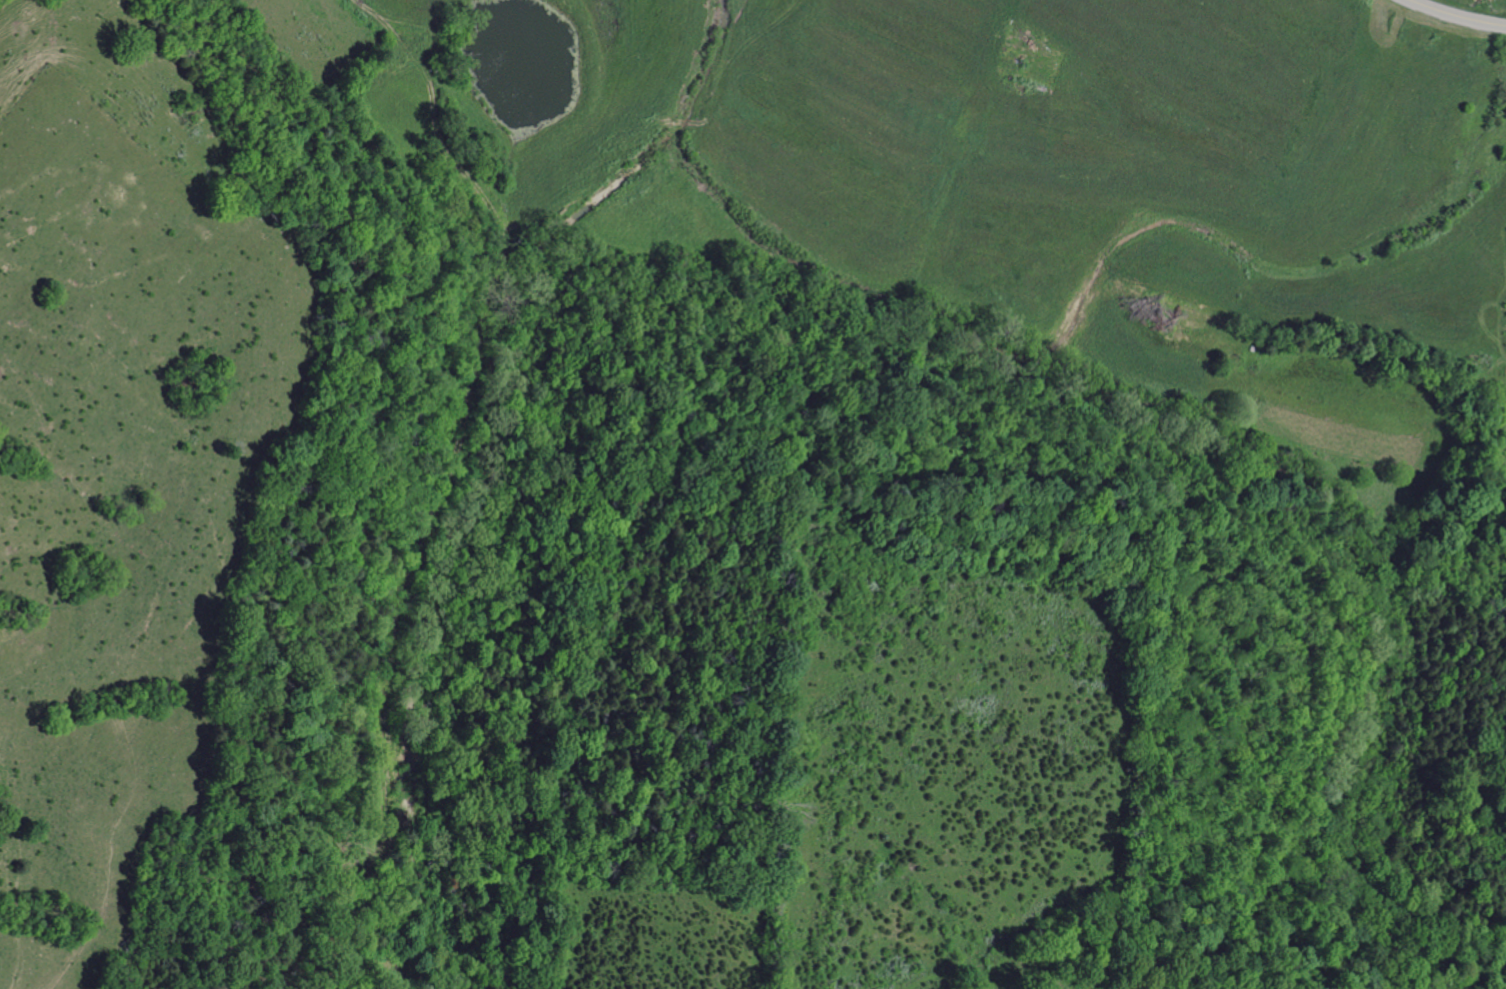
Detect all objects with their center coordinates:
road: (1457, 15)

